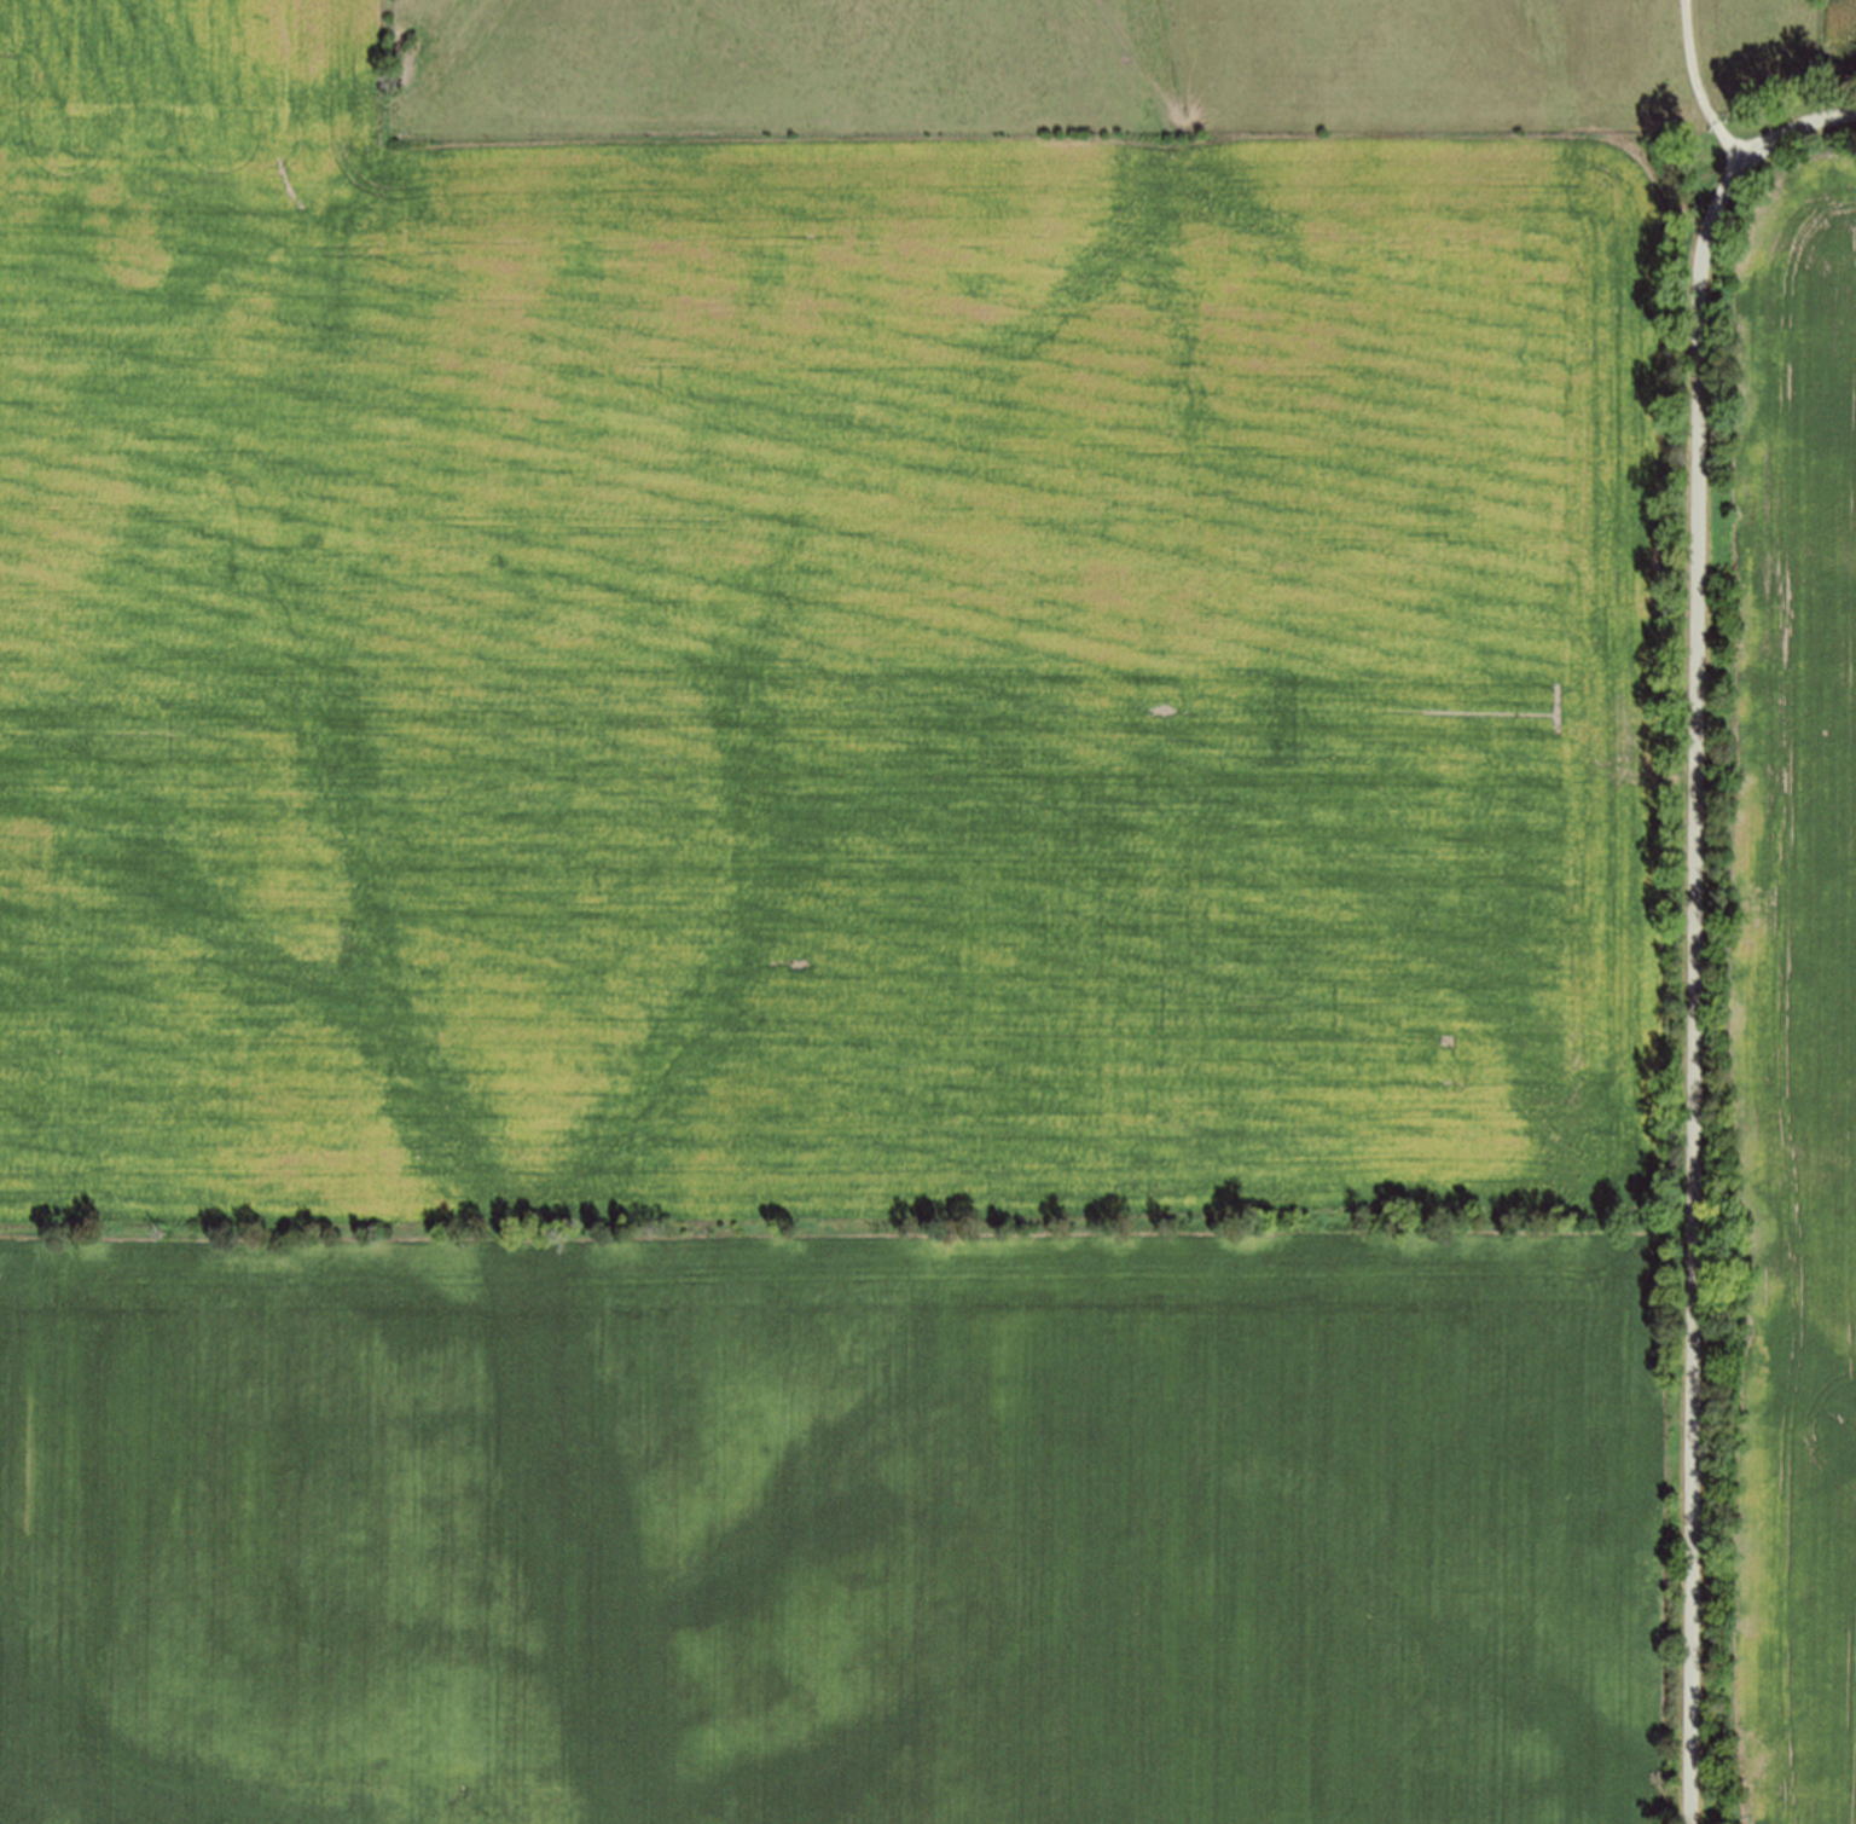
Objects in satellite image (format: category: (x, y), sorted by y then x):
road: (1700, 83)
road: (1705, 926)

